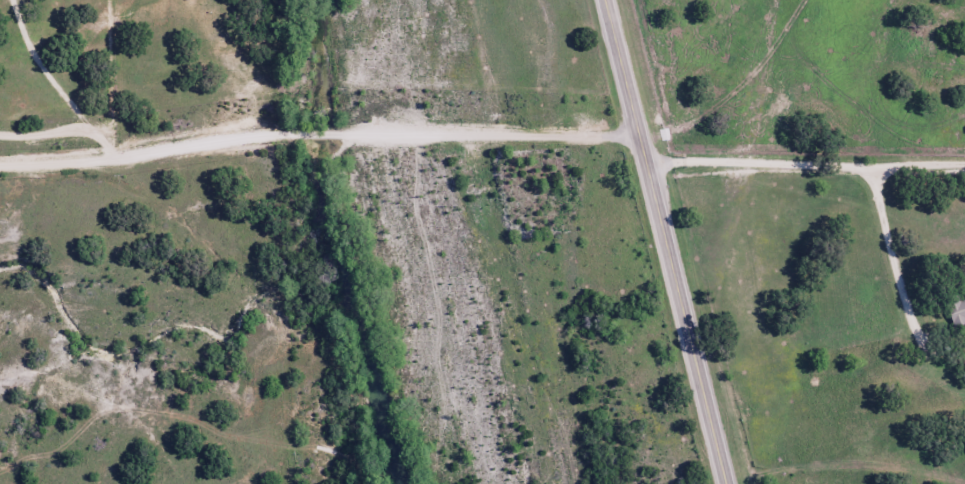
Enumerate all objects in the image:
road: (318, 130)
road: (805, 159)
road: (666, 241)
river: (326, 244)
building: (957, 311)

